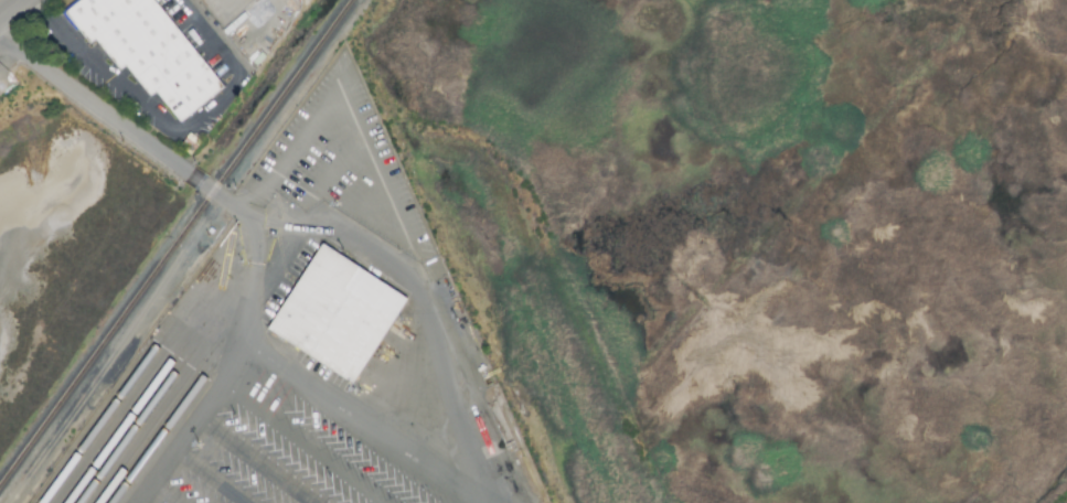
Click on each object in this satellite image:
road: (8, 6)
building: (151, 50)
road: (346, 94)
road: (169, 132)
road: (145, 141)
road: (335, 171)
road: (371, 200)
railway: (177, 244)
building: (341, 314)
road: (436, 320)
road: (323, 382)
railway: (109, 419)
railway: (128, 424)
railway: (138, 427)
road: (265, 428)
railway: (153, 429)
railway: (167, 432)
road: (180, 449)

